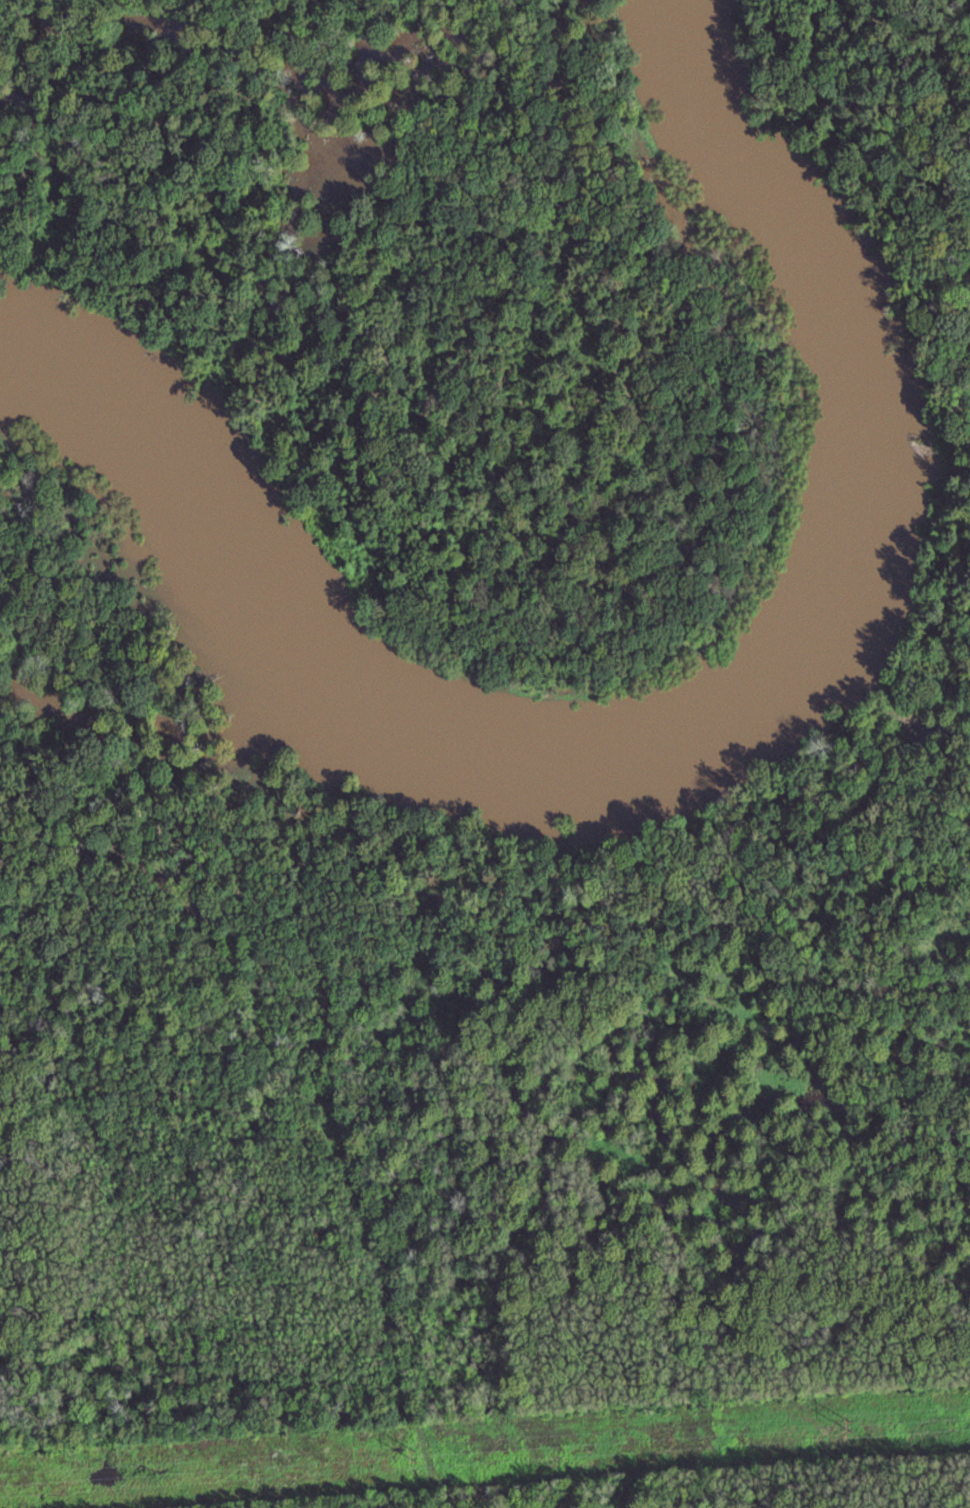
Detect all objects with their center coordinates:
river: (650, 701)
power tower: (851, 1426)
power tower: (416, 1455)

